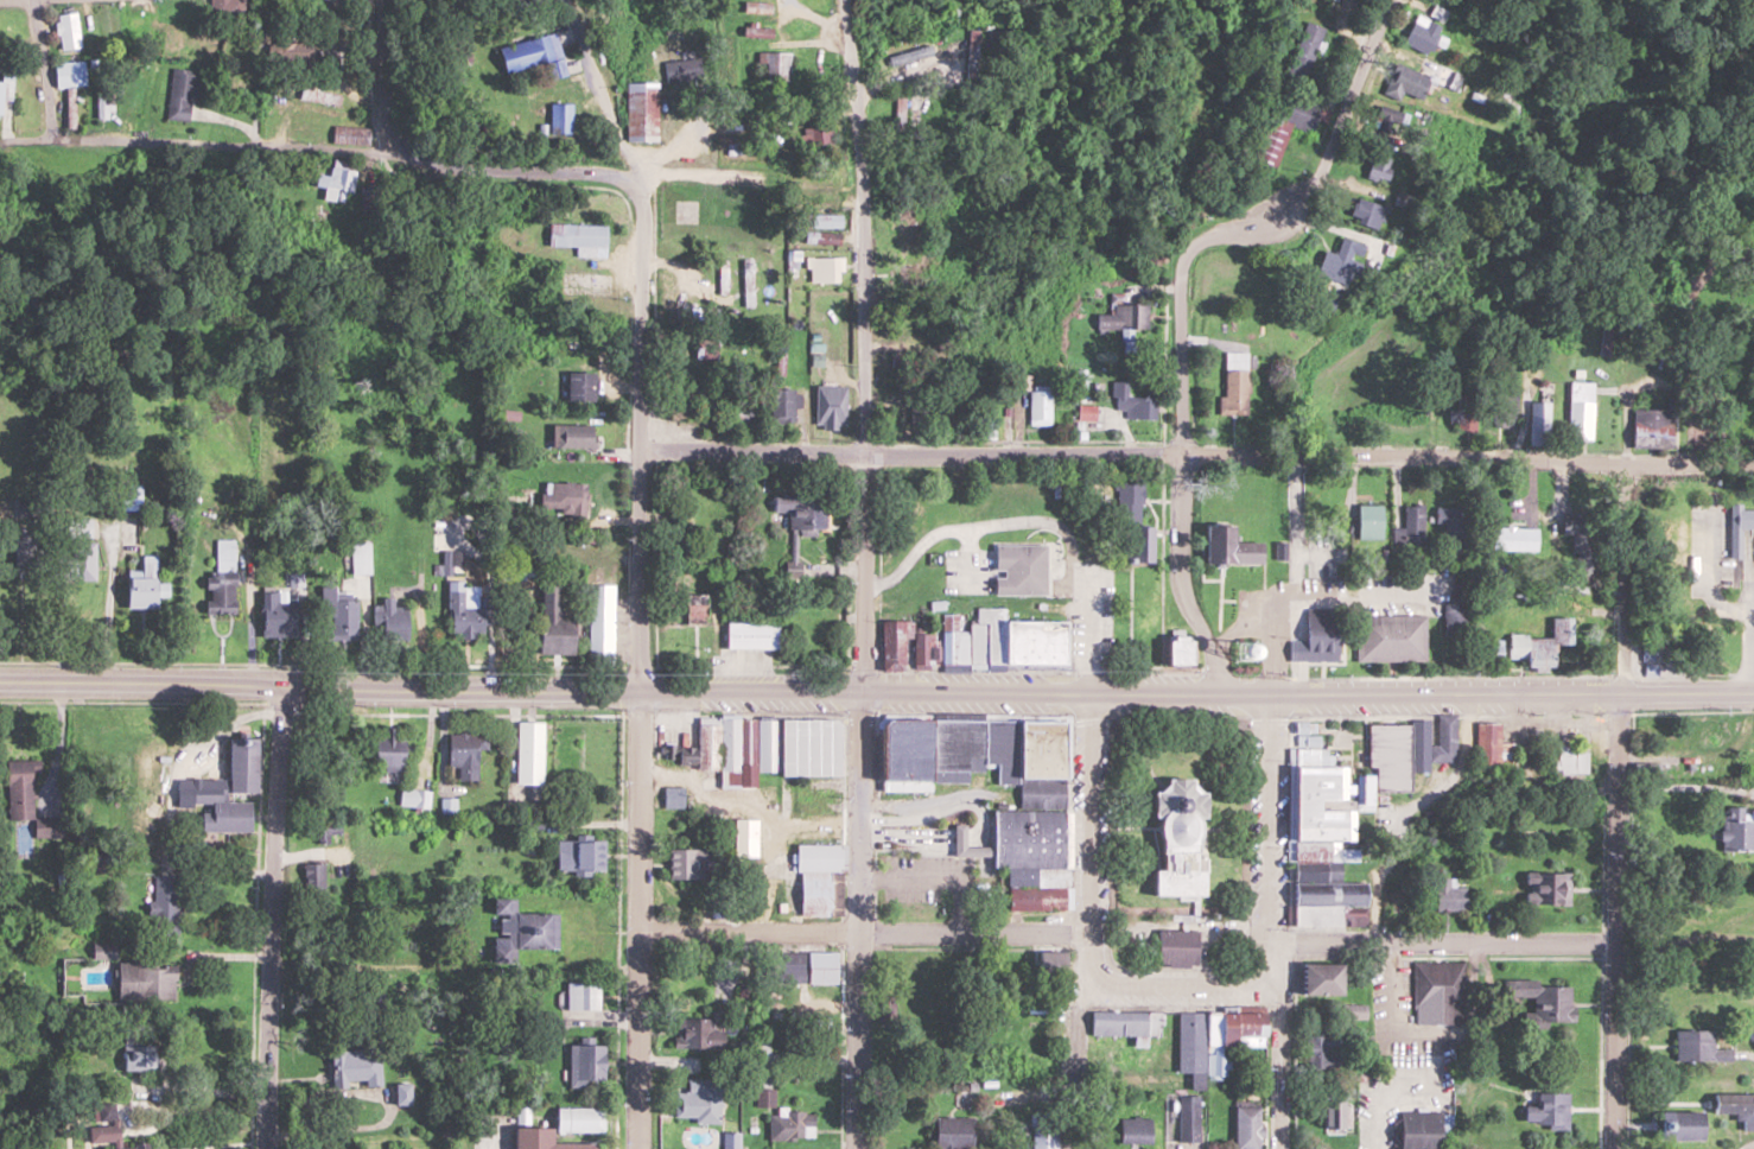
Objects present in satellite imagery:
road: (15, 1)
building: (224, 7)
building: (878, 12)
building: (134, 21)
building: (7, 23)
building: (66, 31)
building: (755, 32)
building: (1422, 36)
building: (1304, 50)
building: (527, 52)
building: (901, 56)
building: (771, 66)
road: (40, 69)
building: (681, 70)
road: (383, 76)
building: (1418, 81)
building: (5, 83)
building: (68, 85)
building: (180, 94)
building: (103, 104)
road: (693, 108)
building: (640, 112)
building: (558, 119)
building: (1388, 119)
building: (1286, 123)
building: (349, 134)
building: (819, 134)
road: (195, 145)
road: (510, 165)
building: (1375, 167)
building: (335, 183)
building: (816, 184)
building: (1364, 214)
building: (822, 221)
road: (864, 226)
building: (820, 237)
building: (577, 239)
building: (1337, 261)
building: (824, 269)
building: (903, 284)
road: (1182, 297)
building: (1125, 320)
building: (704, 347)
building: (578, 387)
building: (1234, 392)
building: (1130, 401)
building: (783, 402)
building: (830, 406)
building: (739, 407)
building: (1038, 407)
building: (1502, 410)
building: (1580, 410)
building: (1464, 412)
building: (1538, 424)
building: (1646, 429)
building: (572, 436)
road: (640, 437)
road: (1196, 453)
building: (131, 496)
building: (564, 497)
building: (800, 512)
building: (1368, 522)
building: (1451, 525)
building: (1410, 527)
building: (1514, 538)
building: (1580, 539)
building: (1142, 545)
building: (82, 547)
building: (1229, 547)
building: (23, 550)
building: (362, 557)
building: (1017, 570)
road: (863, 571)
road: (1063, 573)
building: (223, 574)
building: (144, 588)
building: (462, 602)
building: (693, 607)
building: (277, 616)
building: (339, 618)
building: (389, 618)
building: (600, 621)
building: (554, 622)
building: (750, 637)
building: (1316, 637)
building: (1388, 639)
building: (1537, 641)
building: (973, 645)
building: (1175, 648)
water tower: (1244, 652)
road: (876, 691)
building: (1432, 742)
building: (765, 748)
building: (387, 750)
building: (1494, 750)
building: (465, 753)
building: (529, 755)
building: (1387, 757)
building: (1570, 760)
building: (228, 788)
building: (674, 796)
building: (414, 798)
road: (1620, 806)
road: (1275, 817)
building: (1737, 830)
building: (744, 838)
building: (1030, 838)
building: (1174, 838)
building: (1317, 852)
building: (579, 855)
building: (686, 863)
building: (815, 875)
building: (313, 876)
building: (1549, 888)
building: (1449, 895)
building: (165, 904)
road: (275, 918)
road: (641, 919)
road: (859, 920)
road: (1085, 921)
building: (522, 929)
road: (862, 932)
road: (1447, 939)
building: (1175, 947)
building: (1047, 965)
building: (805, 966)
building: (1320, 978)
building: (145, 980)
road: (1181, 982)
building: (1438, 992)
building: (582, 995)
building: (1543, 1003)
building: (1355, 1011)
building: (1125, 1026)
building: (695, 1033)
building: (1227, 1039)
road: (1279, 1043)
building: (1190, 1046)
building: (1697, 1046)
building: (136, 1047)
building: (1322, 1049)
building: (584, 1064)
building: (356, 1066)
road: (1267, 1079)
building: (405, 1092)
building: (697, 1099)
building: (1735, 1106)
building: (1548, 1110)
building: (1333, 1115)
building: (1188, 1117)
building: (577, 1118)
building: (790, 1124)
building: (1680, 1124)
building: (1247, 1125)
building: (108, 1128)
building: (1044, 1130)
building: (1142, 1130)
building: (952, 1132)
building: (540, 1140)
building: (1418, 1140)

